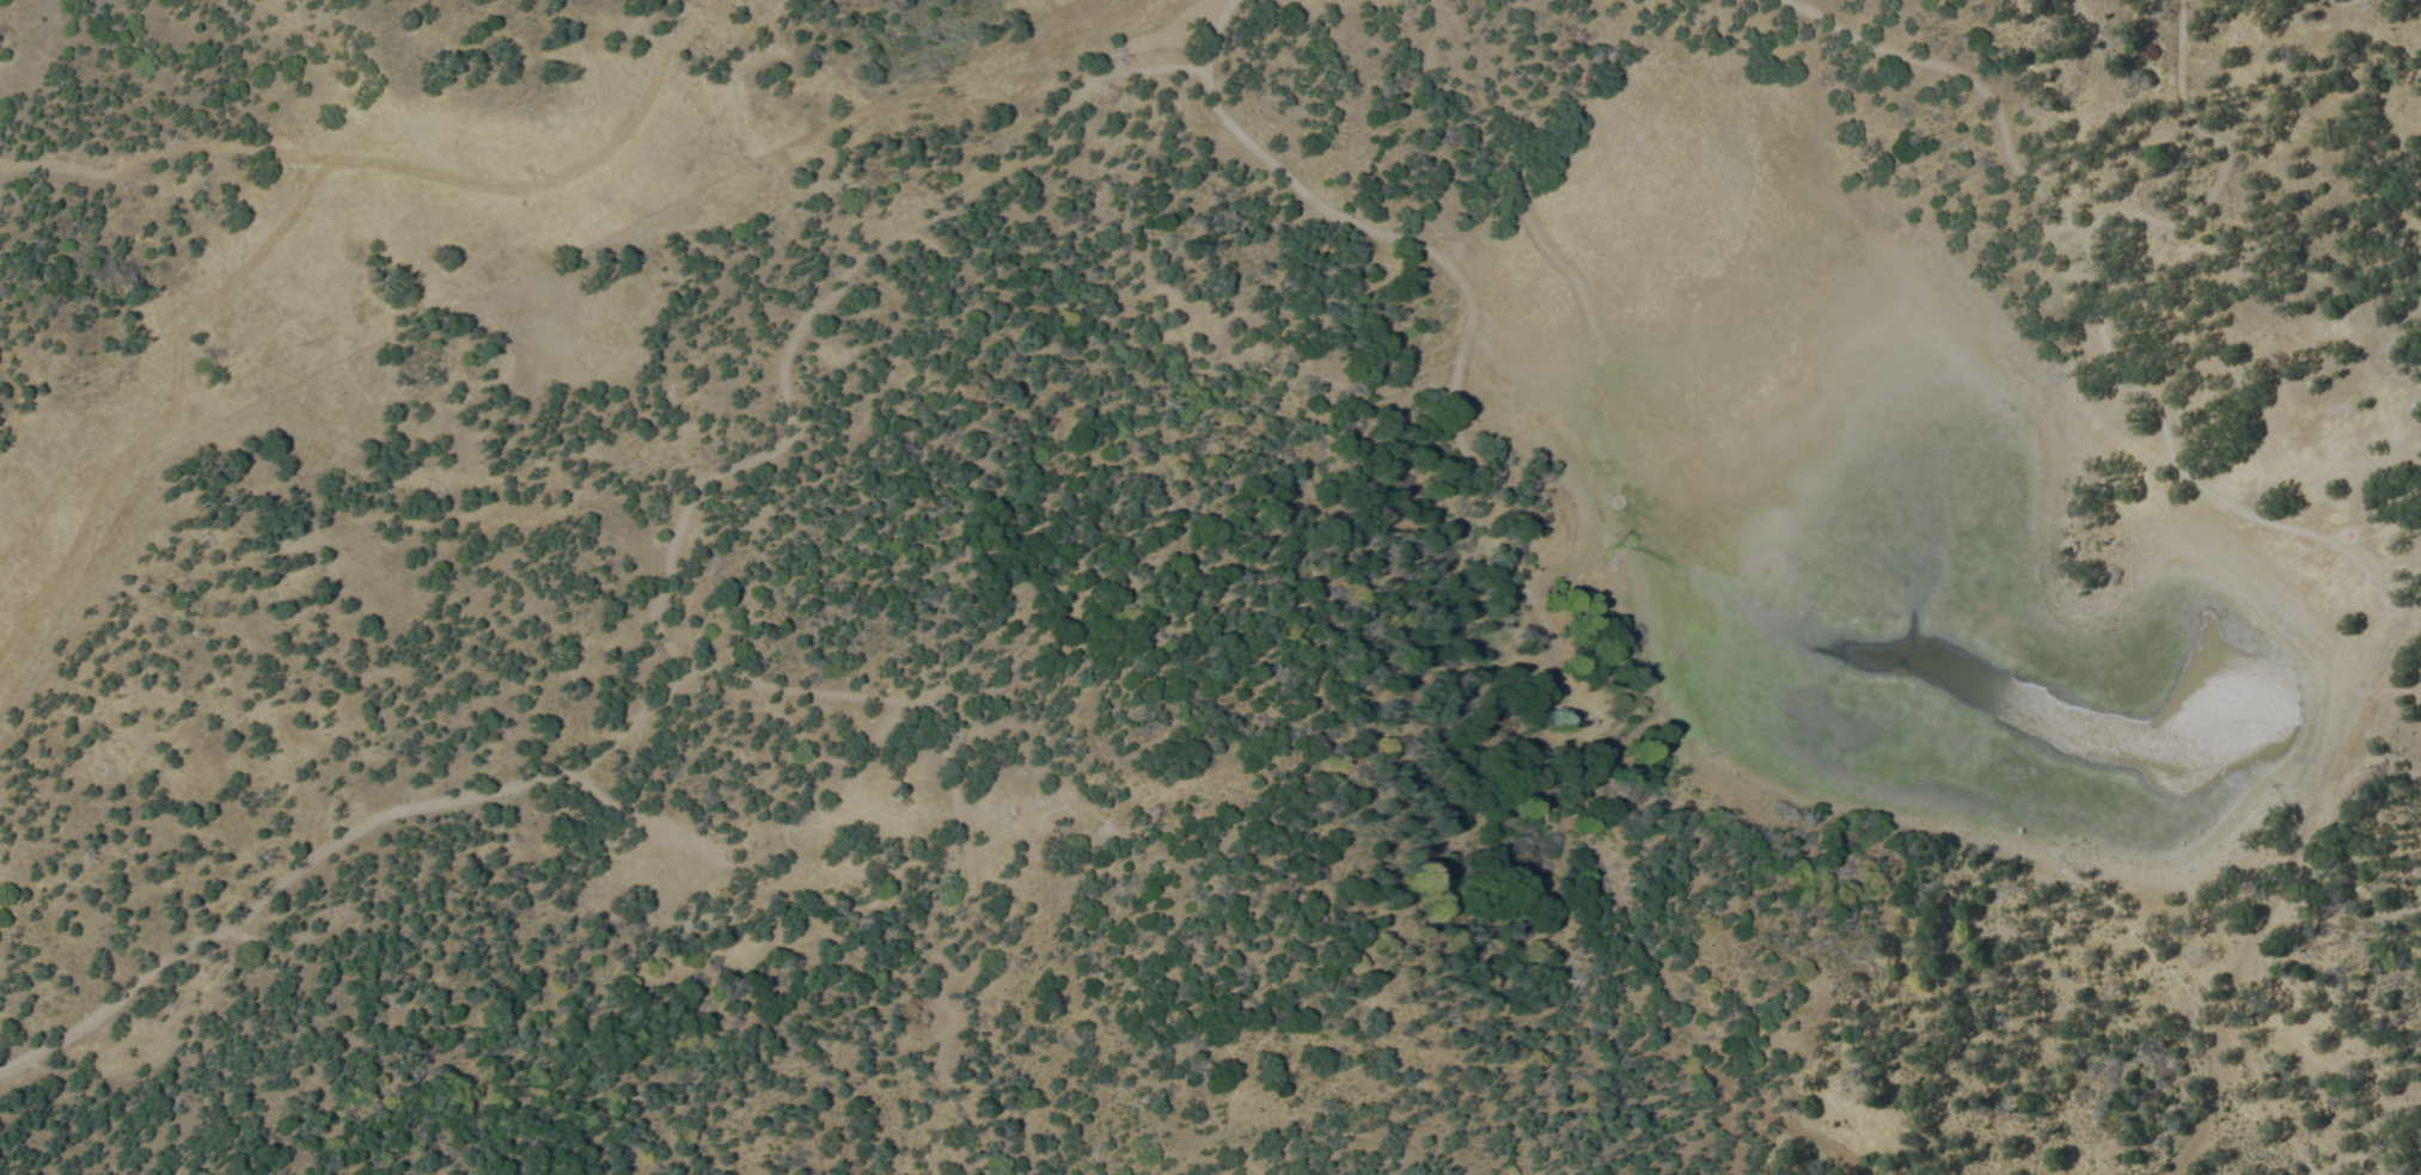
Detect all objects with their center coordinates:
road: (2337, 1)
road: (1212, 41)
road: (1963, 78)
road: (170, 154)
road: (2220, 155)
road: (292, 212)
road: (2084, 228)
road: (2085, 238)
road: (820, 301)
road: (2190, 483)
road: (1487, 503)
road: (886, 700)
road: (2275, 896)
road: (194, 944)
road: (2266, 1101)
road: (1722, 1106)
road: (1780, 1126)

